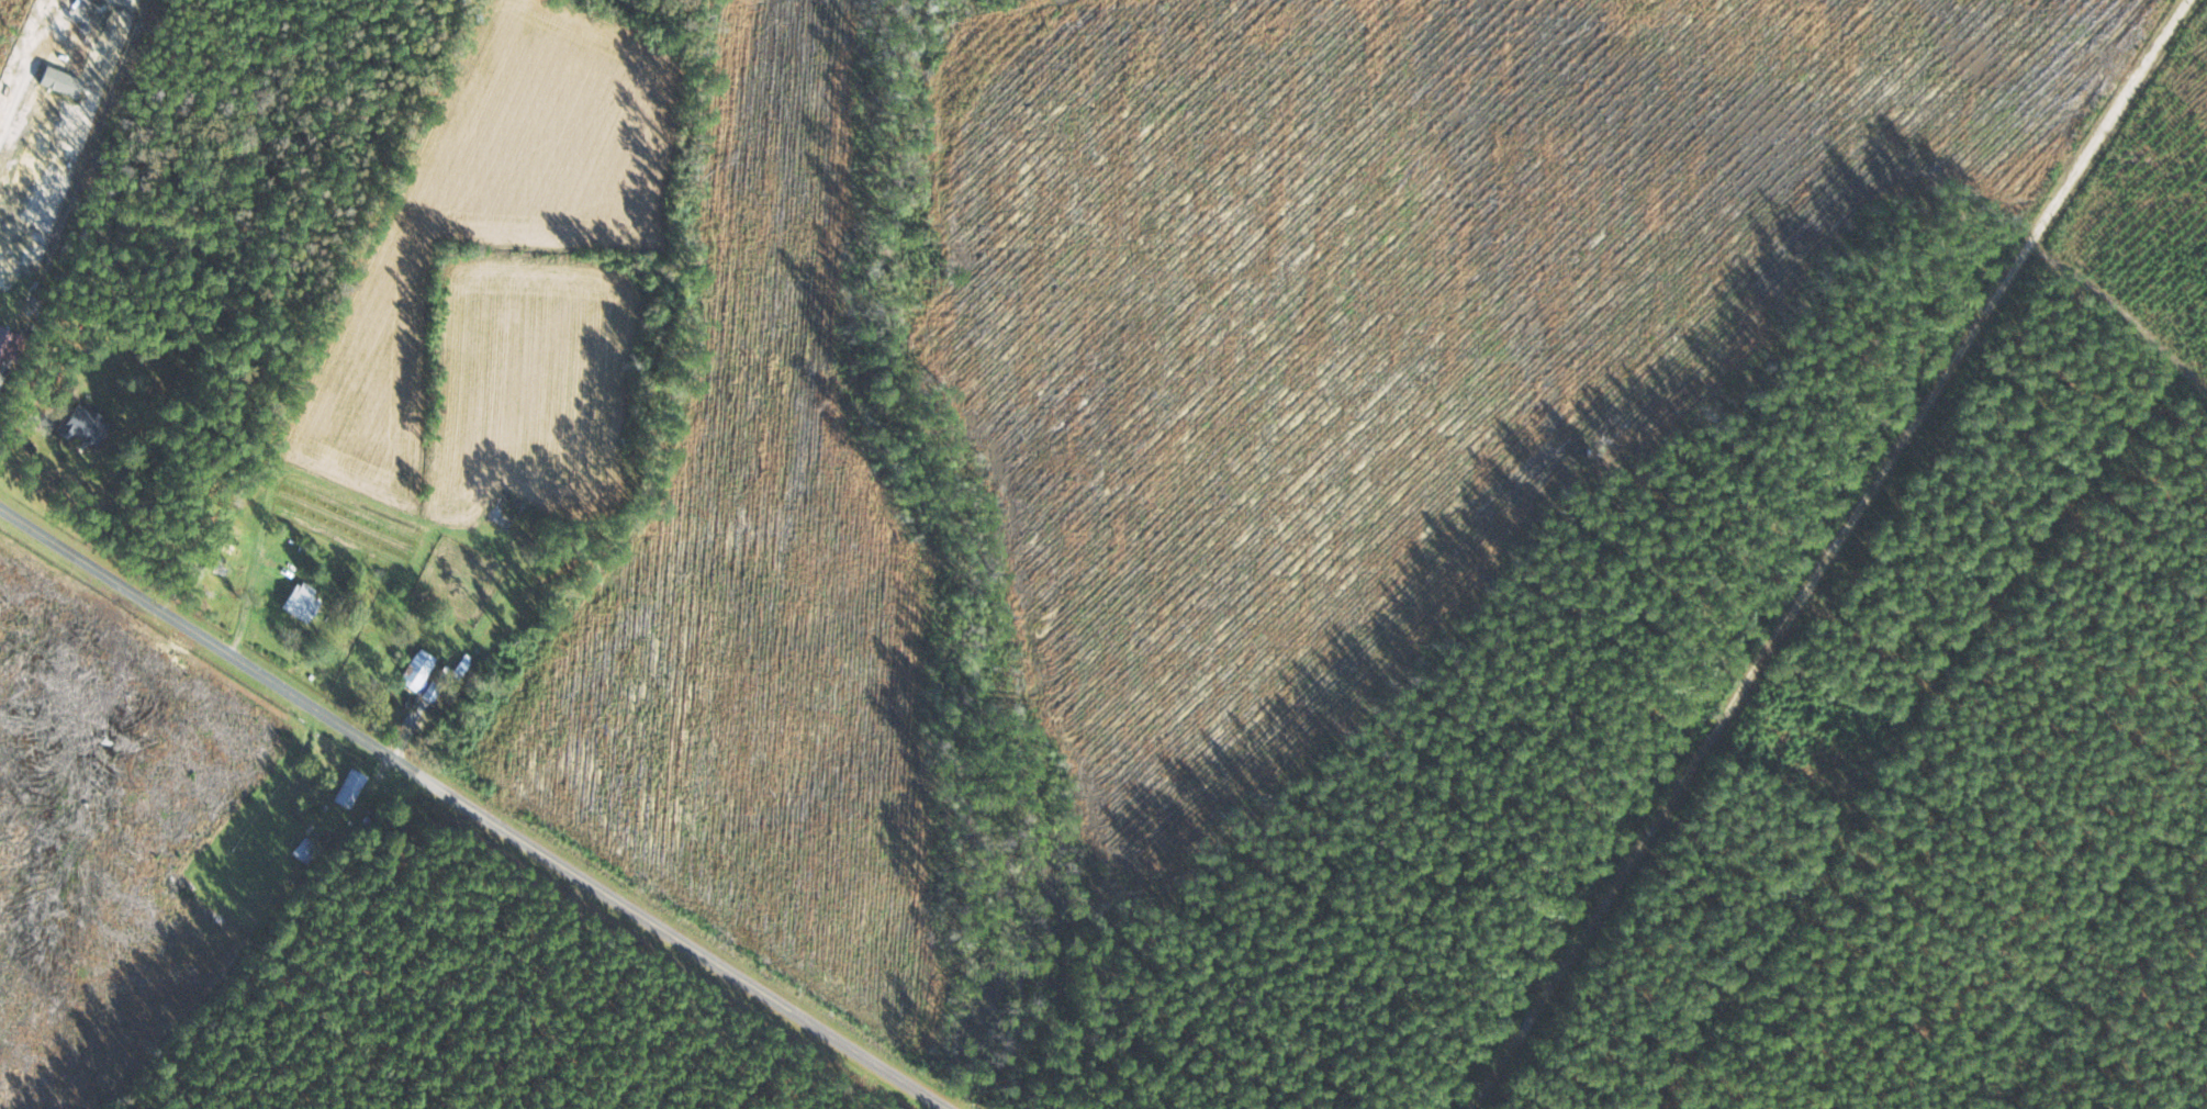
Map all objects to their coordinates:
building: (0, 351)
building: (80, 428)
building: (508, 514)
road: (1781, 550)
building: (376, 565)
building: (300, 603)
building: (414, 671)
building: (429, 693)
building: (348, 789)
road: (471, 808)
building: (304, 850)

